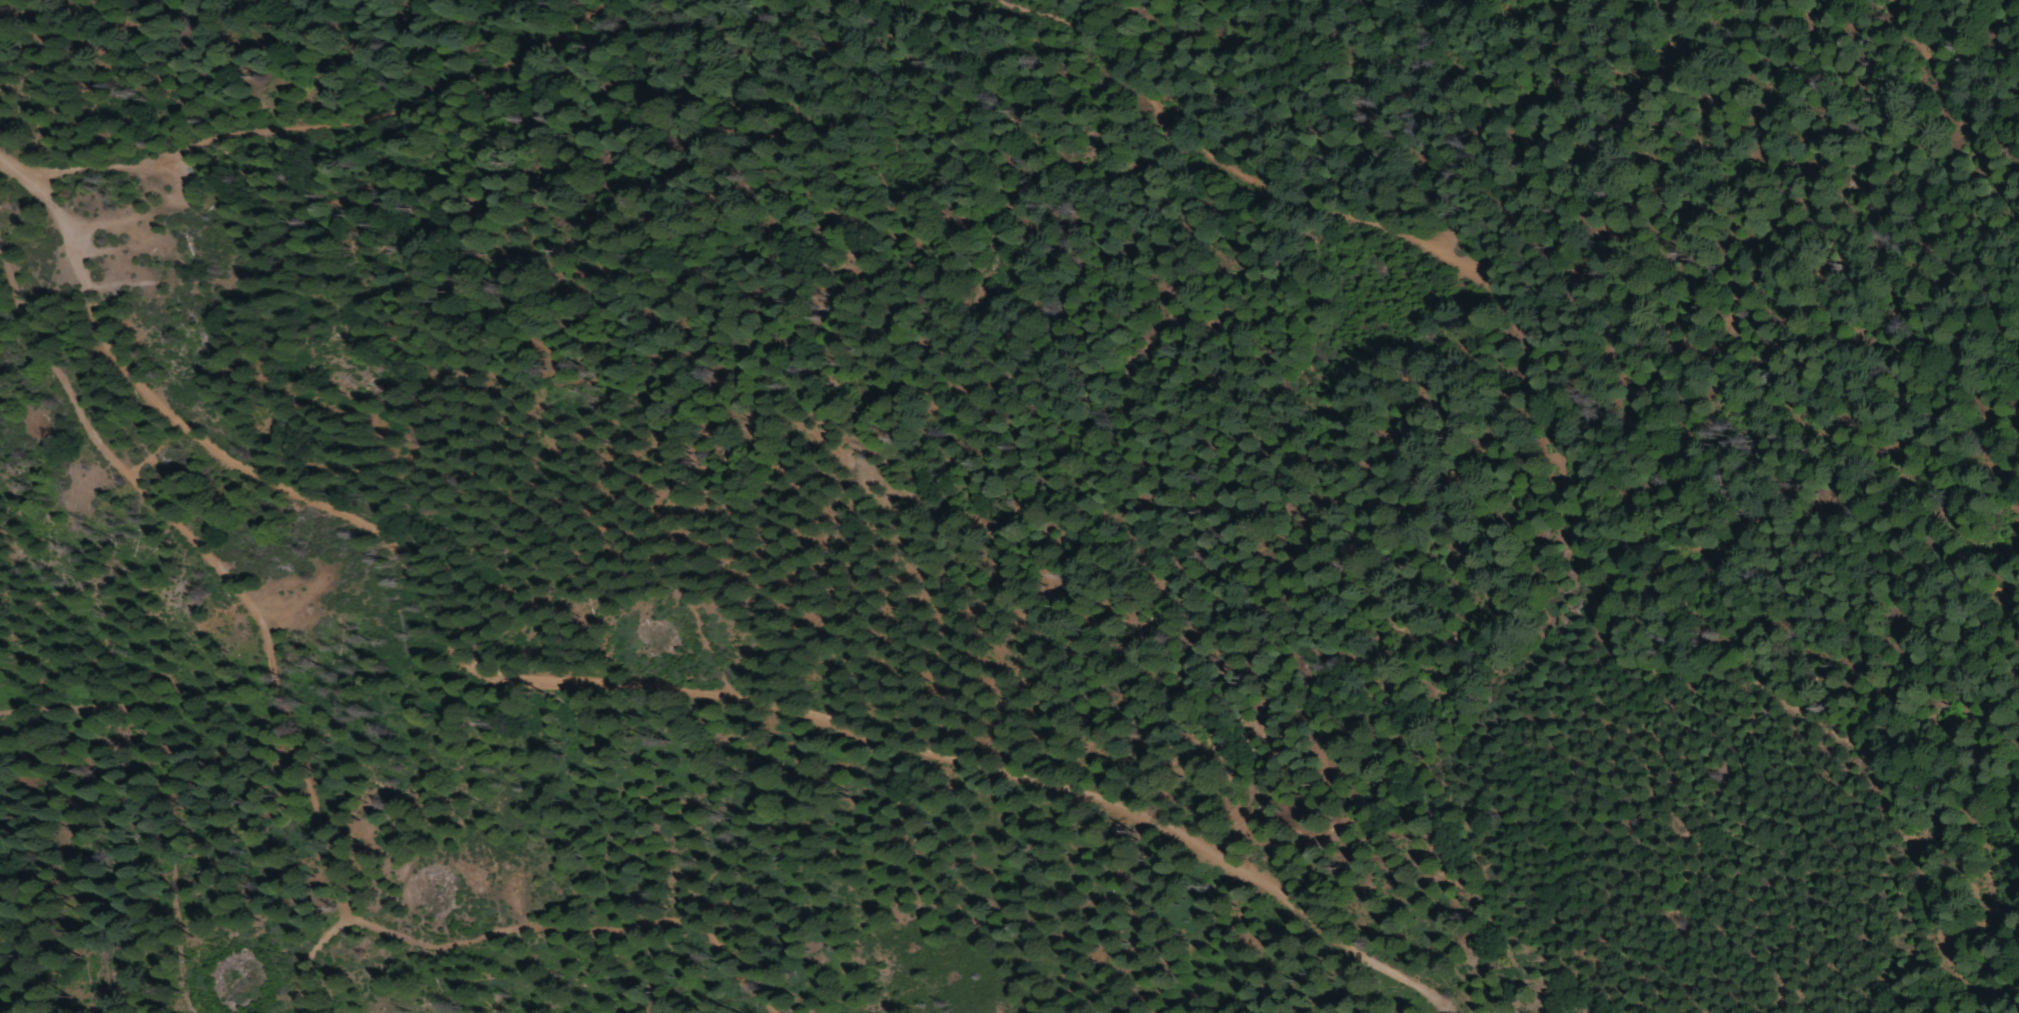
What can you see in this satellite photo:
road: (1974, 73)
road: (641, 683)

